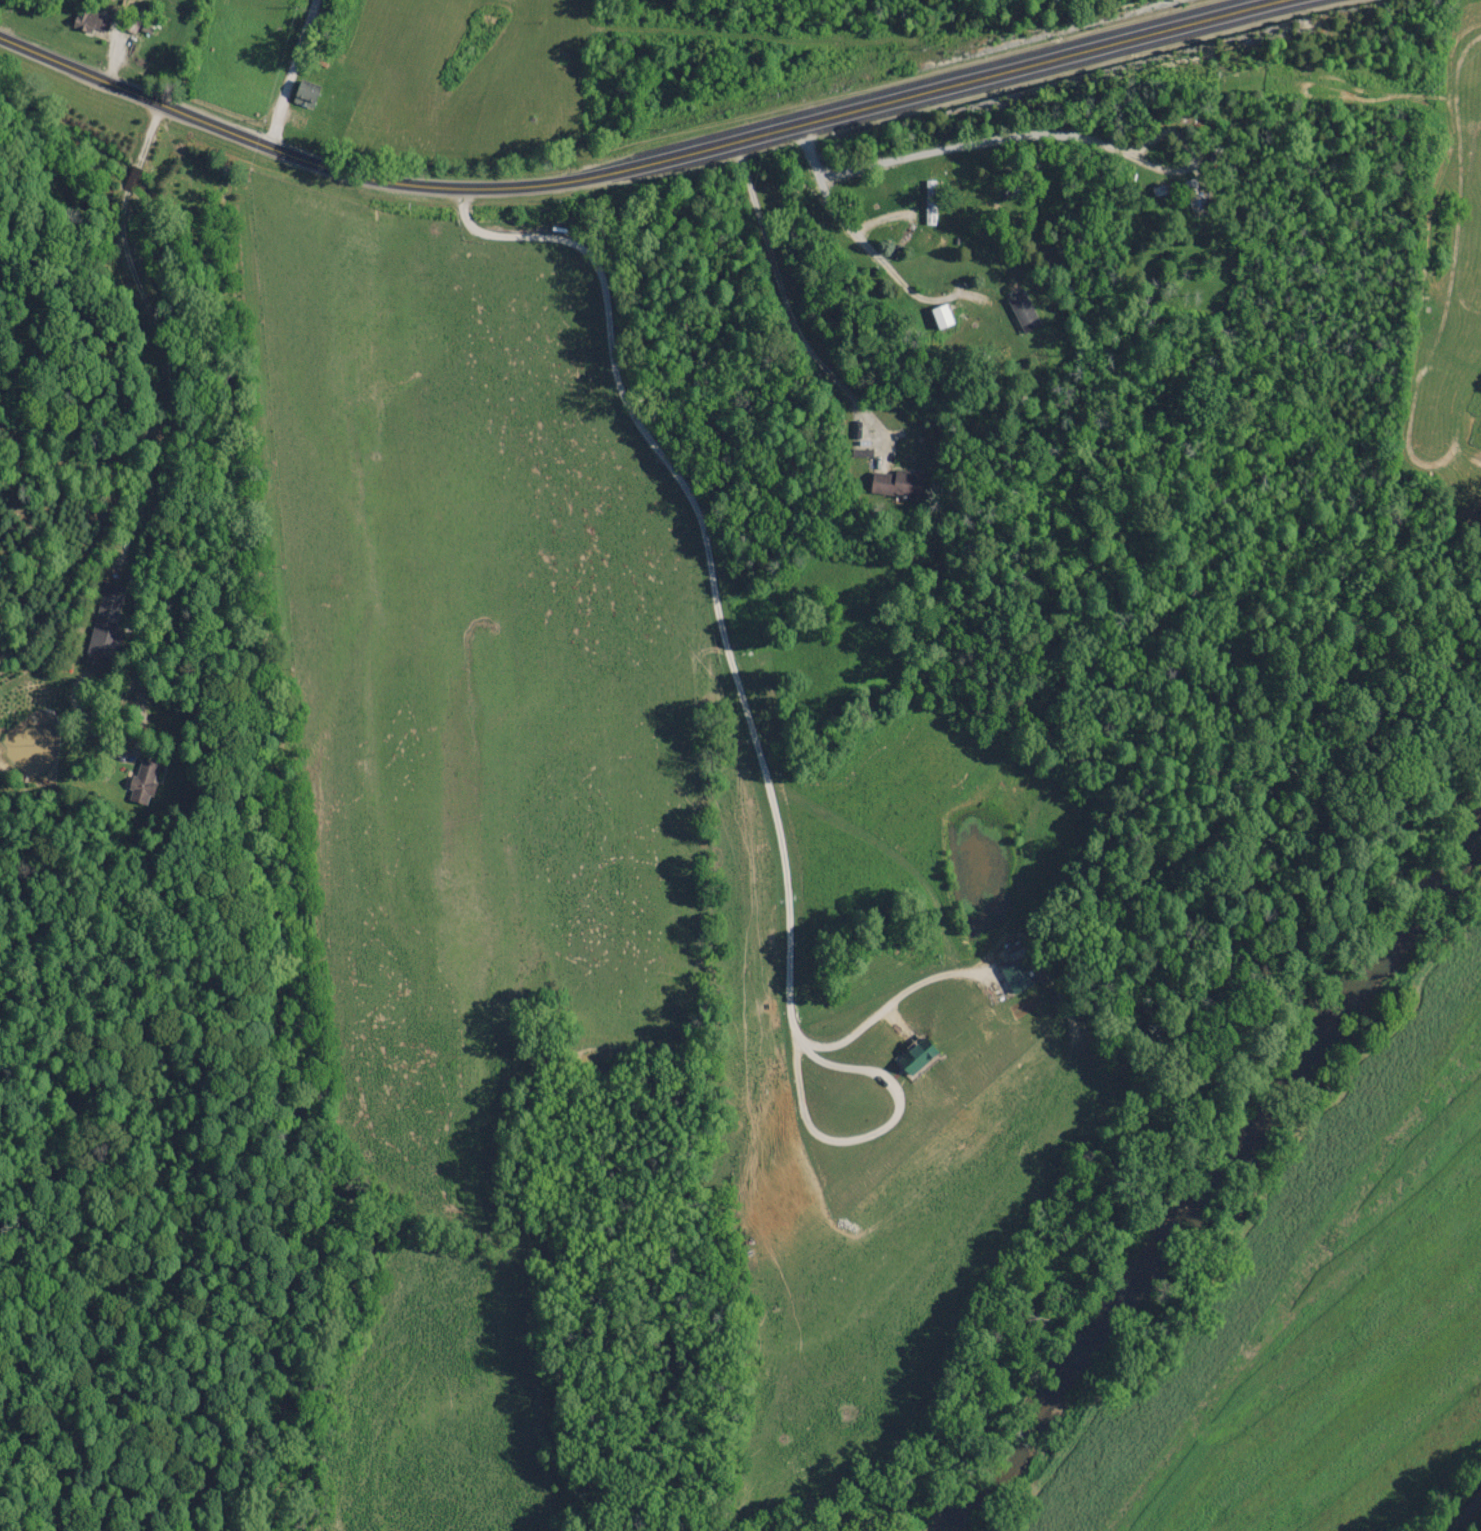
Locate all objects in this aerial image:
building: (90, 21)
road: (288, 73)
building: (302, 93)
road: (623, 167)
building: (1166, 189)
building: (928, 208)
building: (1021, 312)
building: (891, 484)
building: (104, 625)
building: (140, 781)
road: (1471, 1523)

